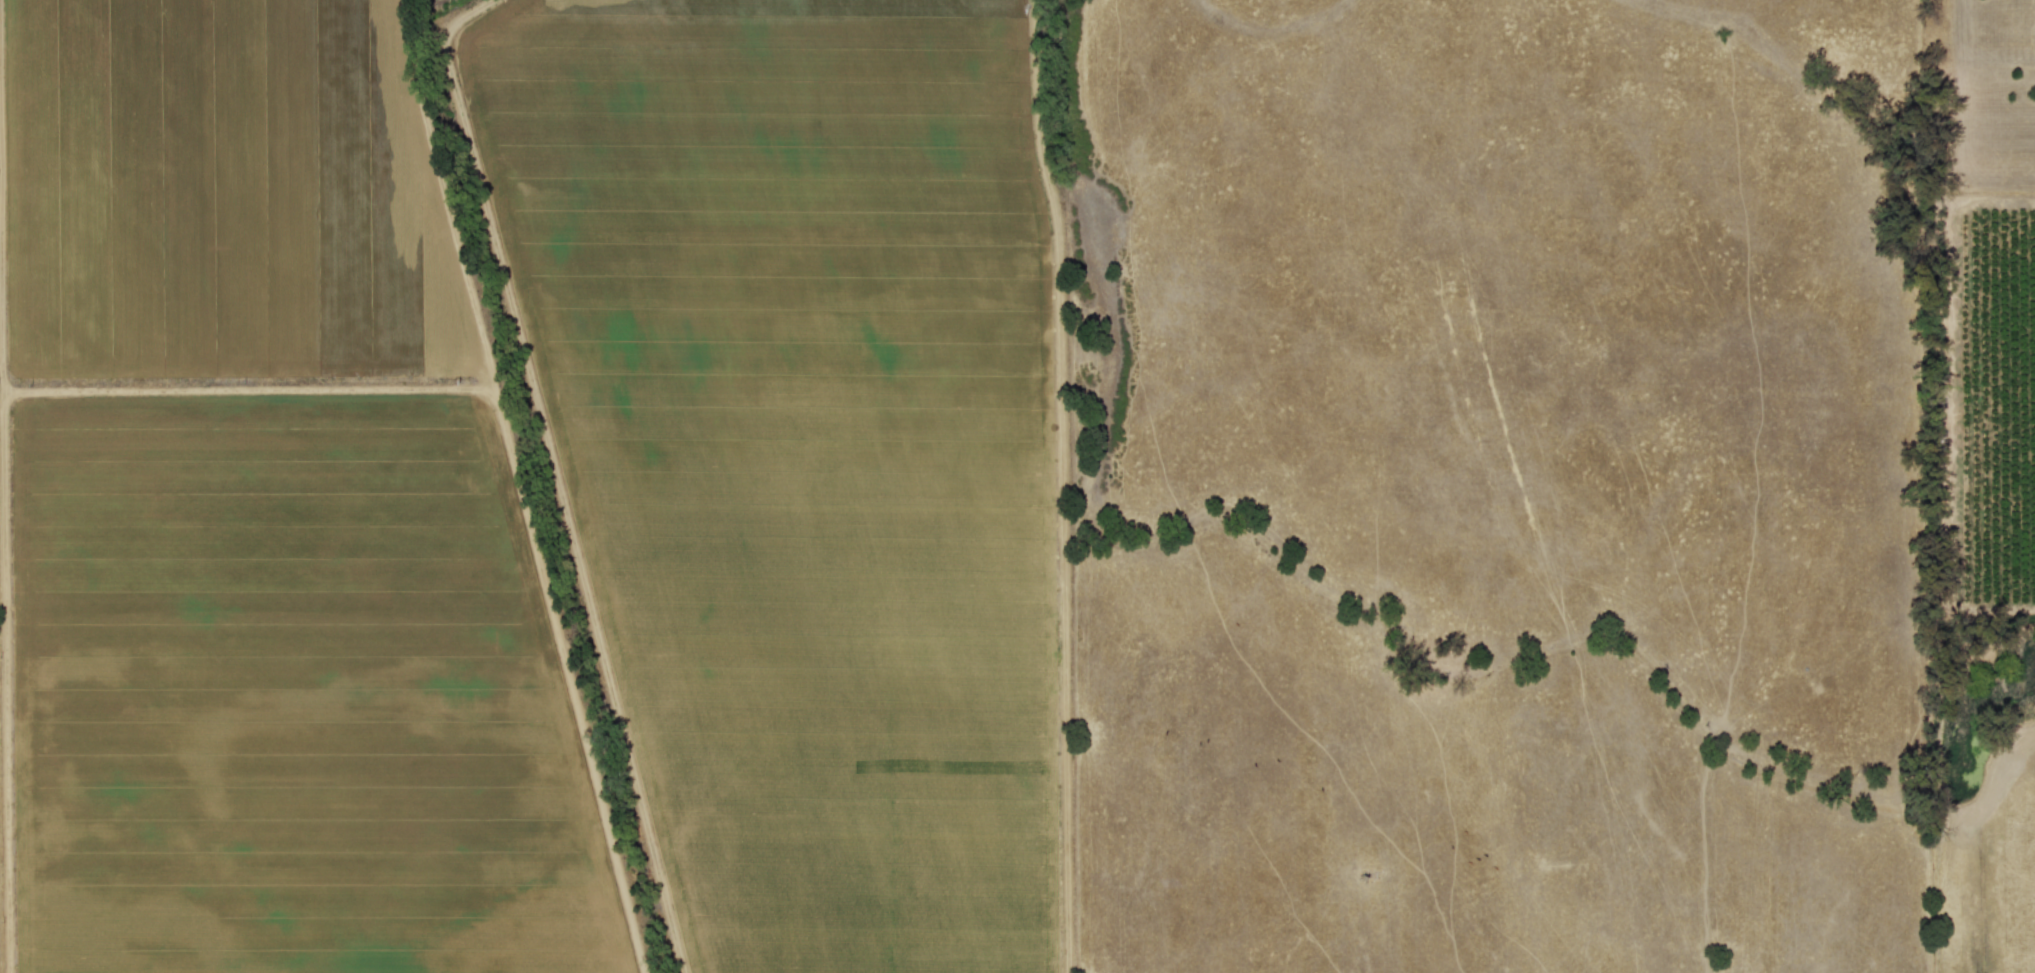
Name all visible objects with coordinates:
crop: (1017, 486)

